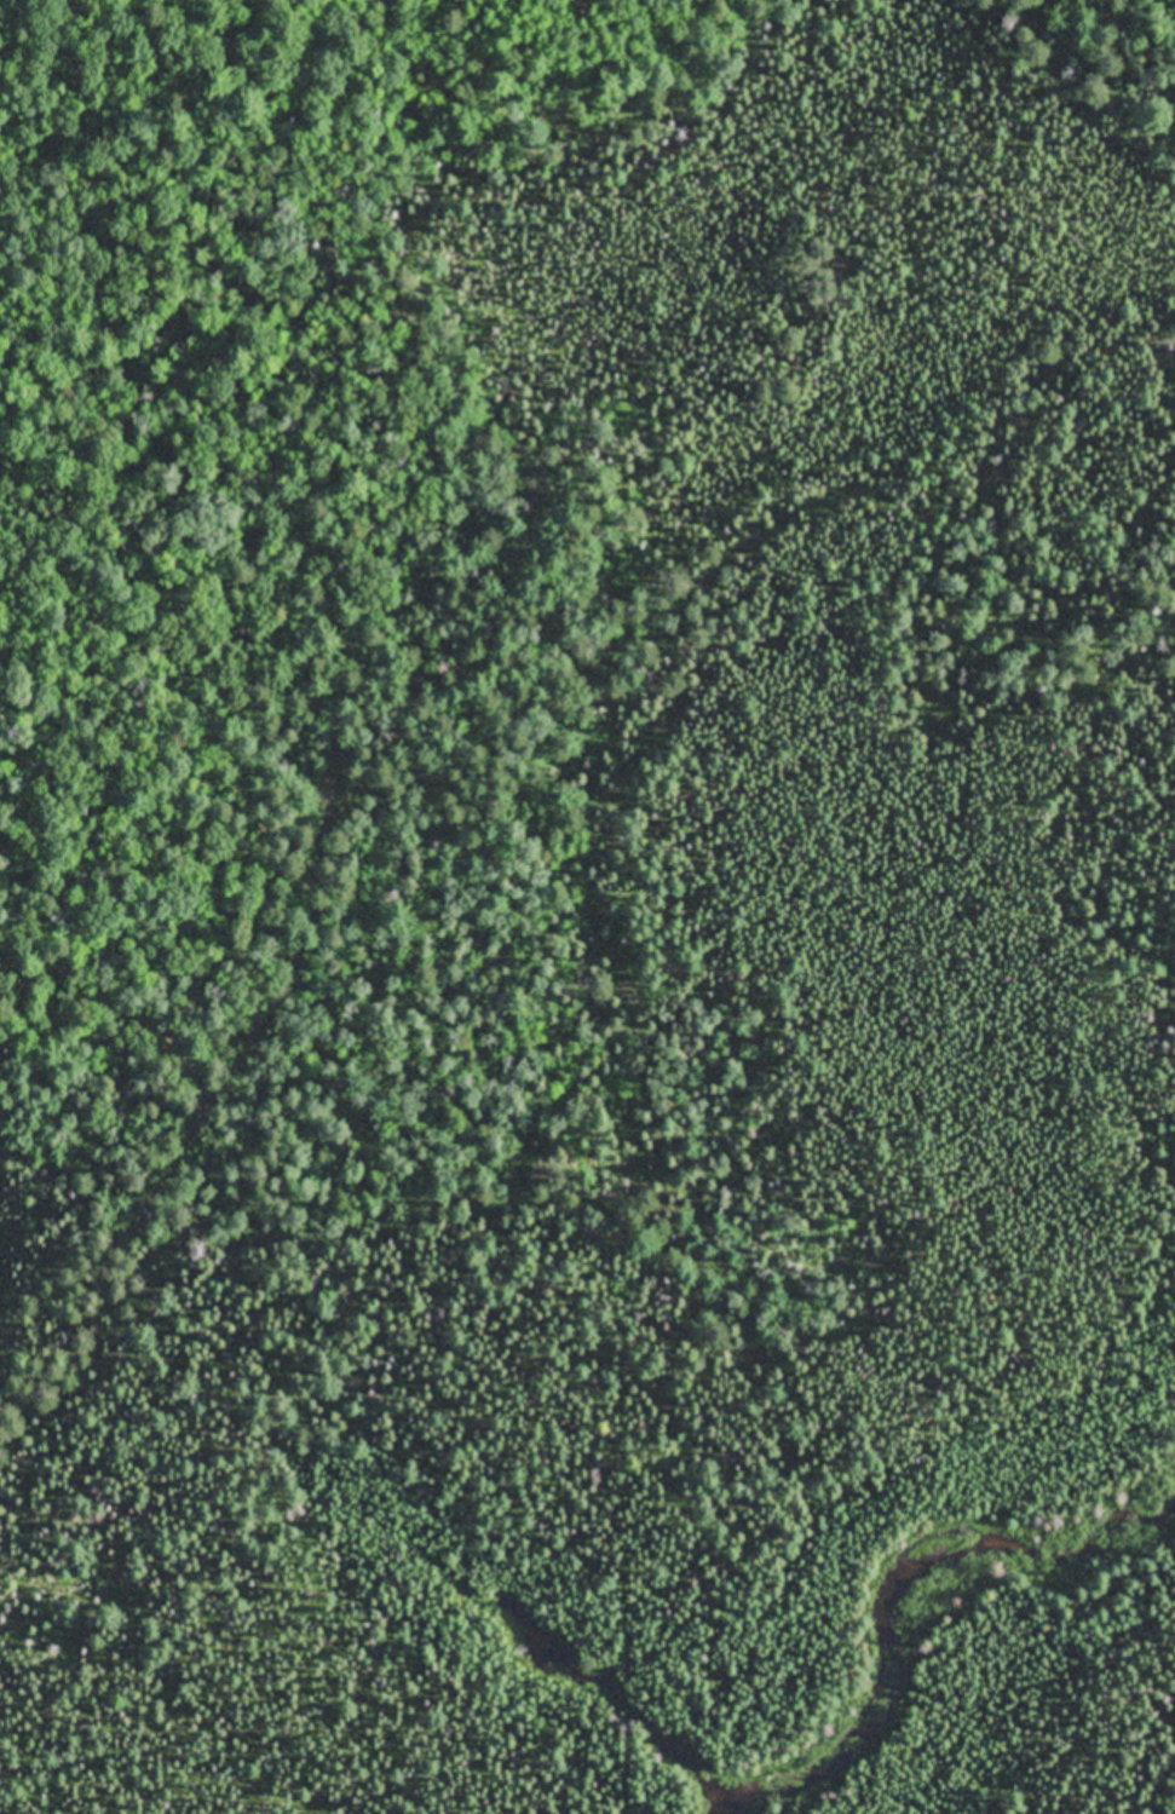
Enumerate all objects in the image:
road: (129, 1135)

